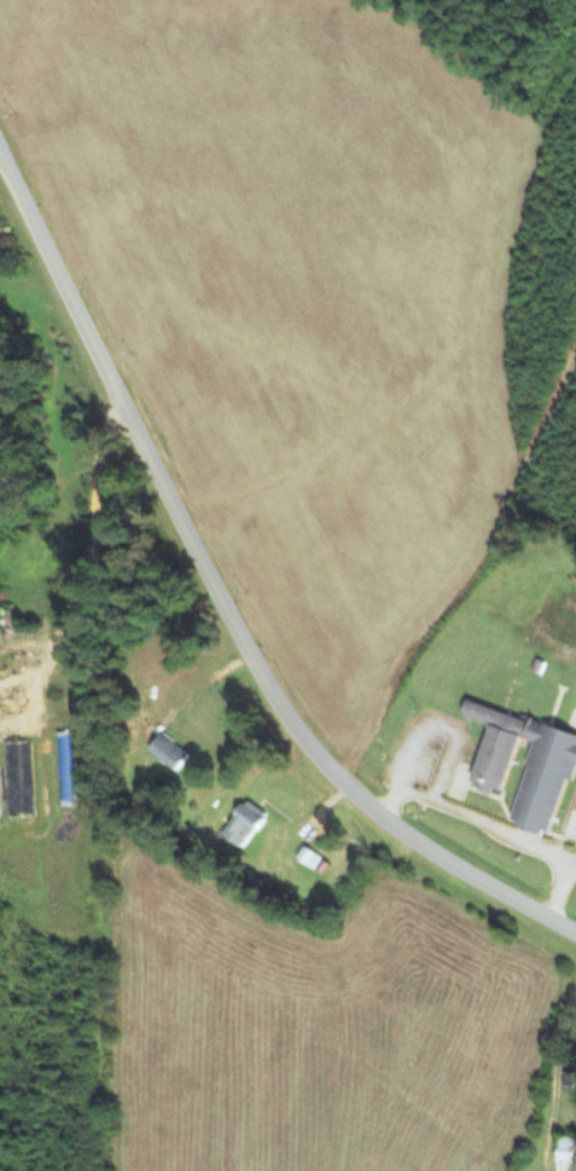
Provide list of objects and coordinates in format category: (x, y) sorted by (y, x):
building: (0, 266)
road: (94, 551)
road: (219, 603)
road: (570, 662)
building: (168, 753)
building: (547, 771)
building: (18, 778)
road: (472, 817)
building: (242, 825)
building: (312, 860)
road: (563, 892)
building: (568, 1079)
building: (564, 1148)

